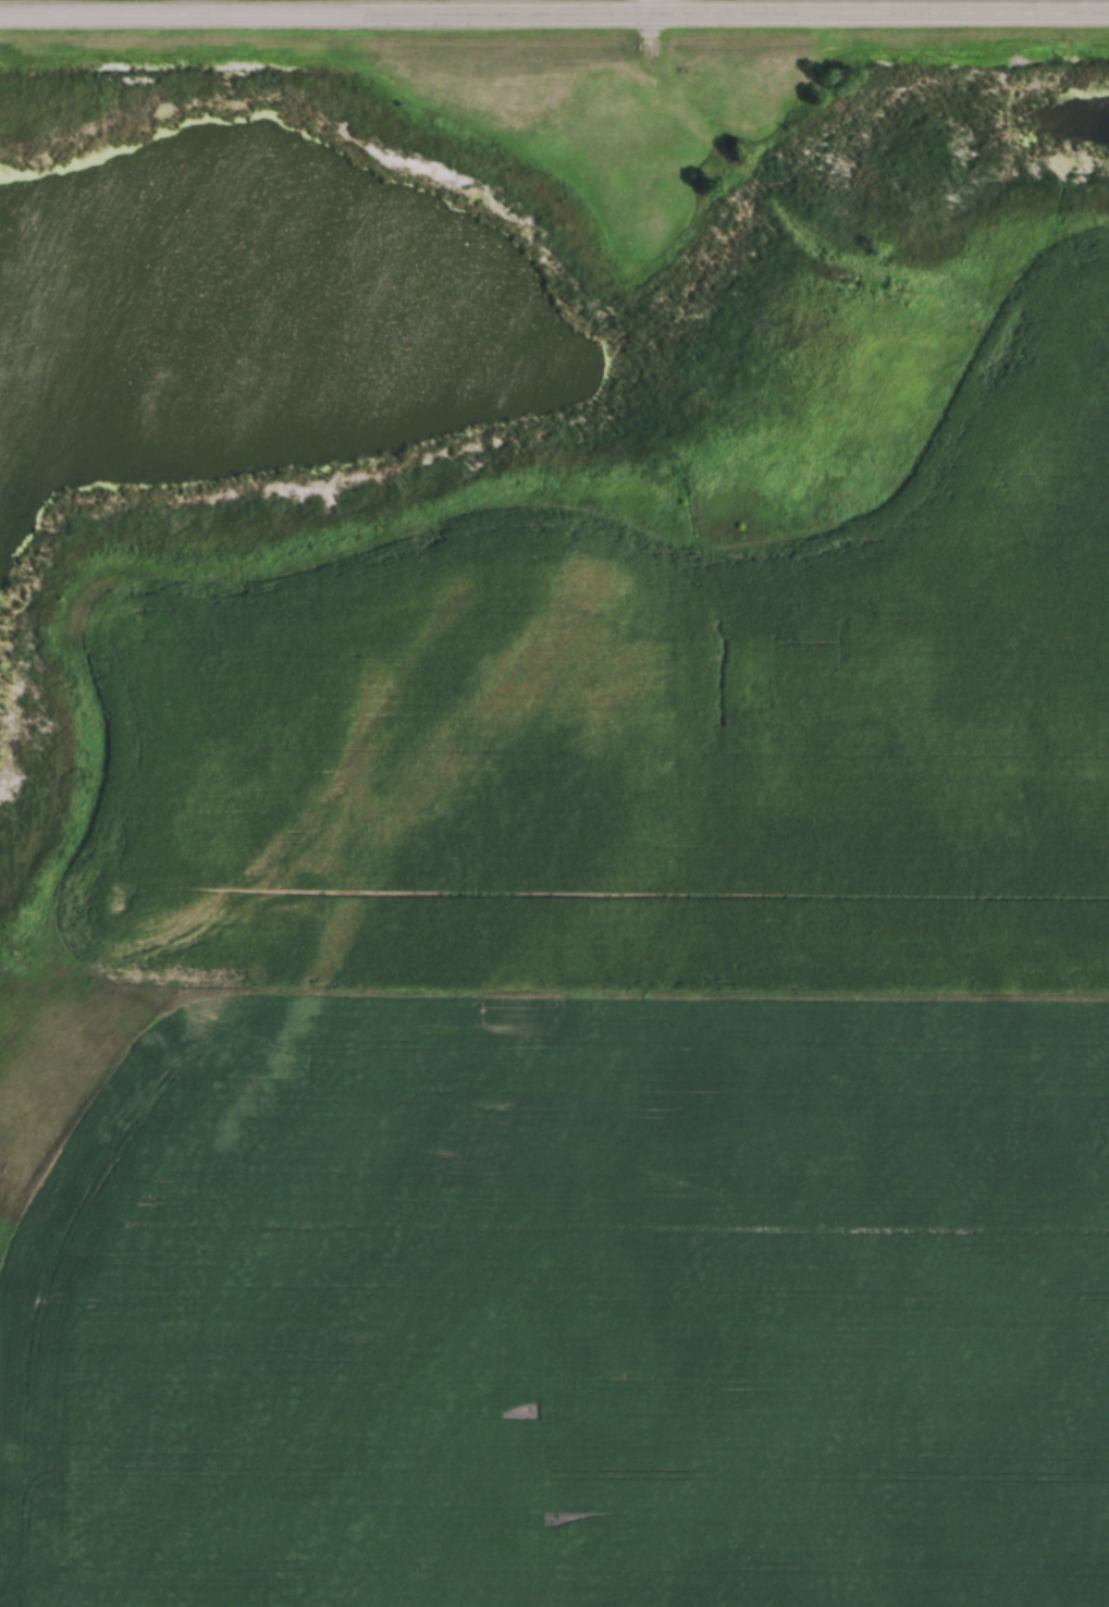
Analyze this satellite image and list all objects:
road: (657, 9)
road: (554, 17)
river: (1038, 96)
river: (387, 317)

